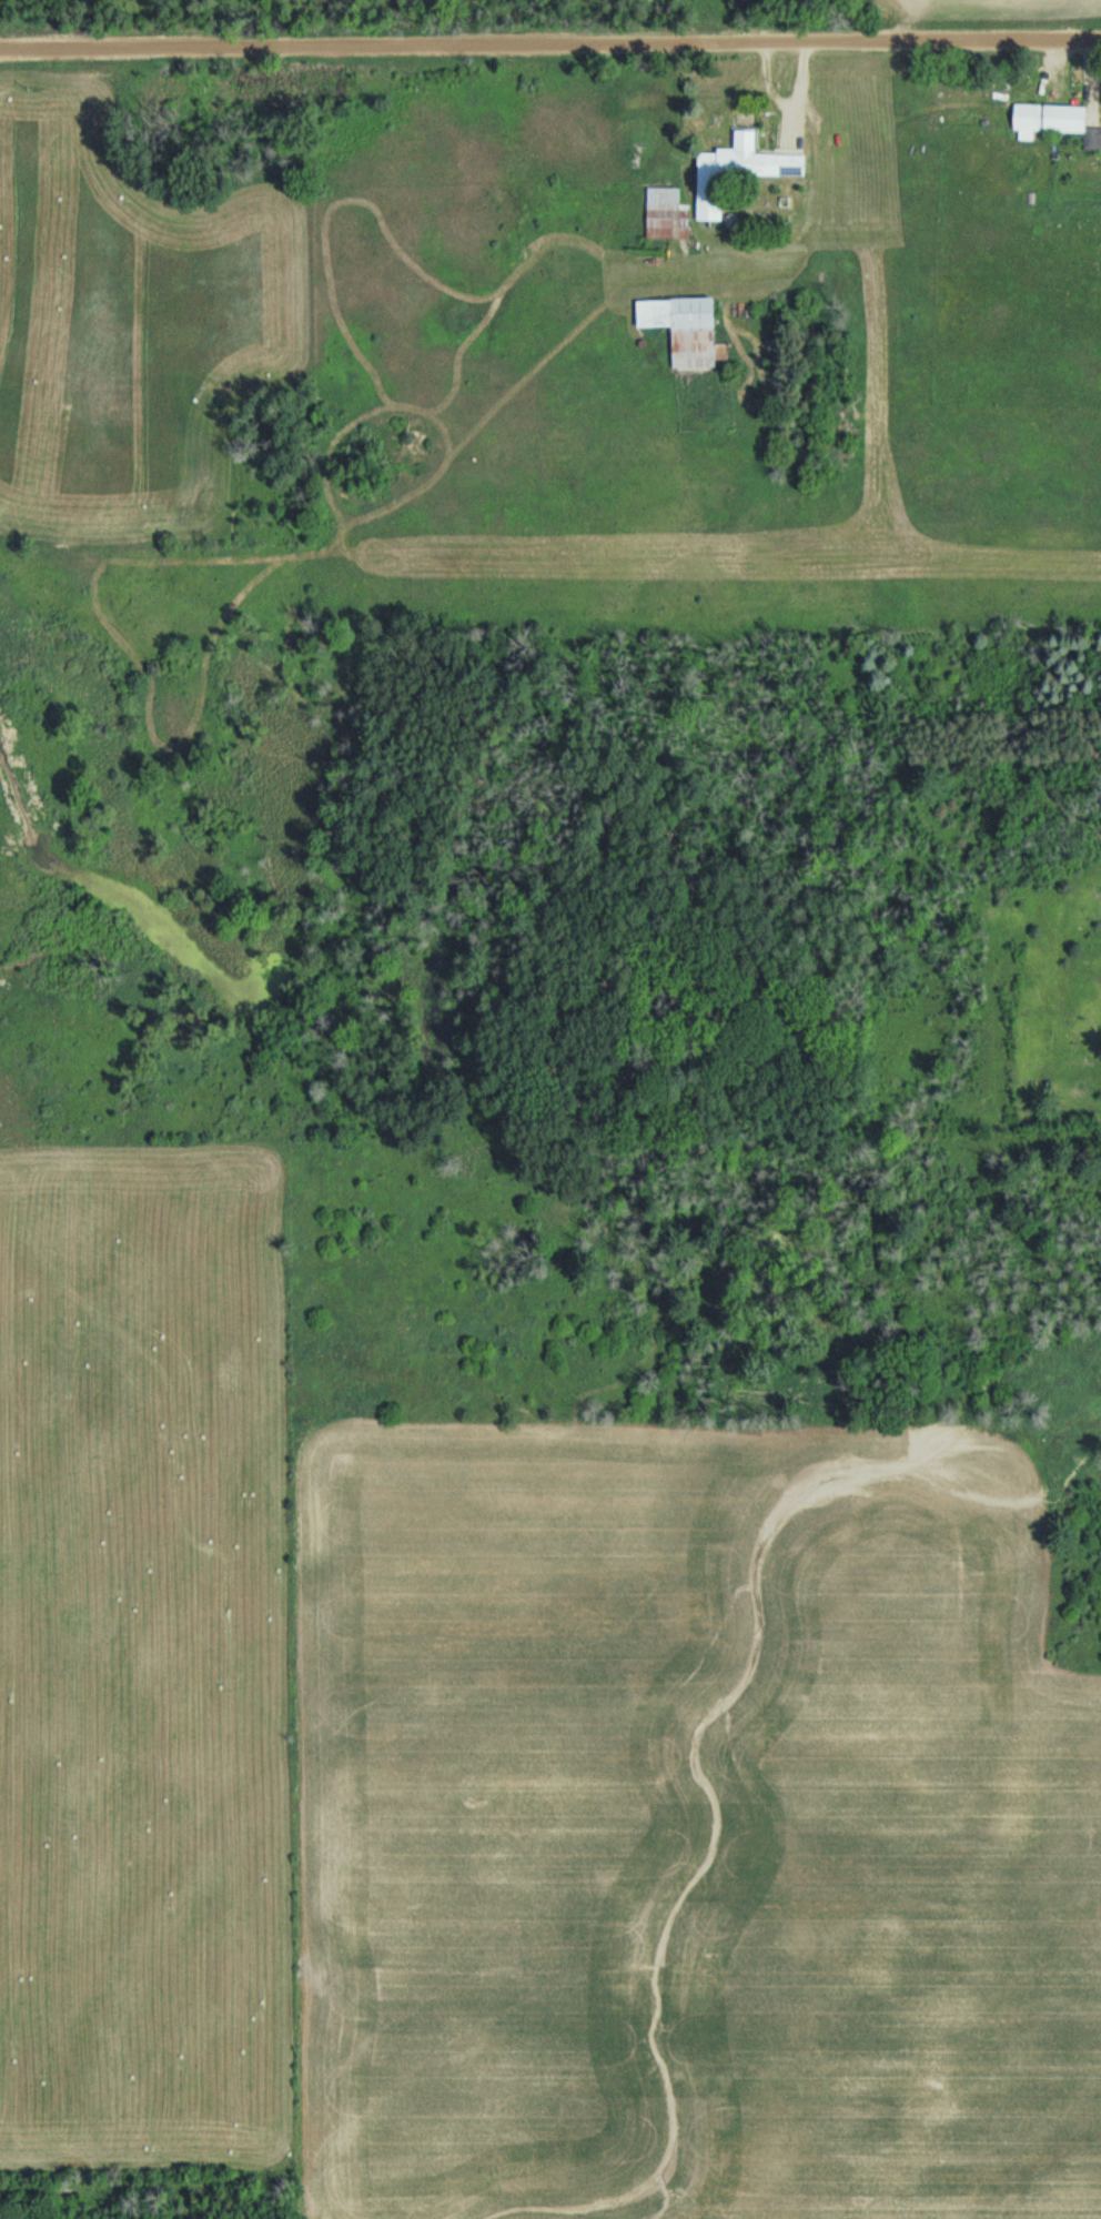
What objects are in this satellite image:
road: (550, 42)
building: (1059, 122)
building: (740, 171)
building: (669, 215)
building: (685, 329)

